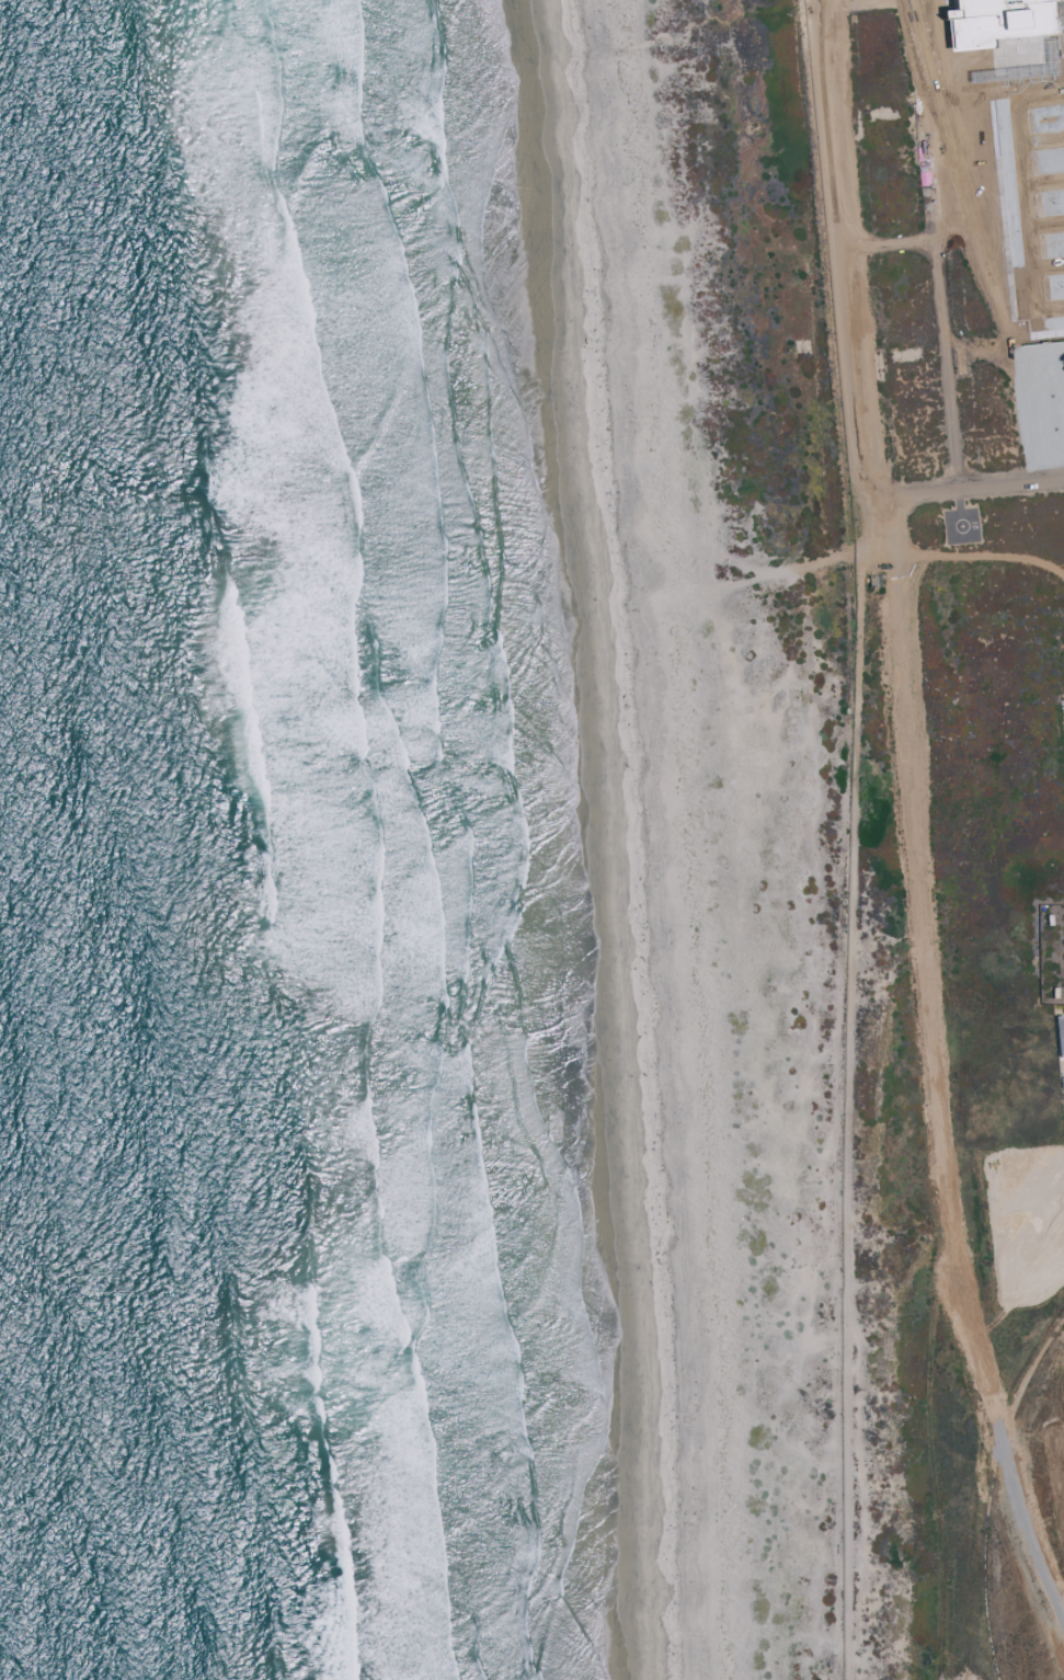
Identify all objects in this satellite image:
road: (836, 253)
road: (974, 484)

